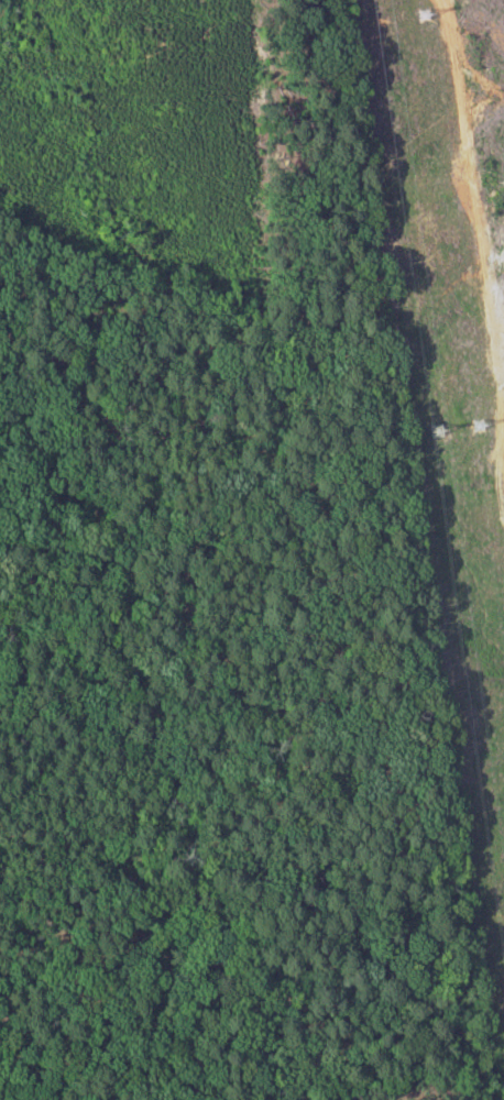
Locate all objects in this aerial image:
power tower: (377, 18)
power tower: (418, 19)
power tower: (474, 427)
power tower: (431, 435)

